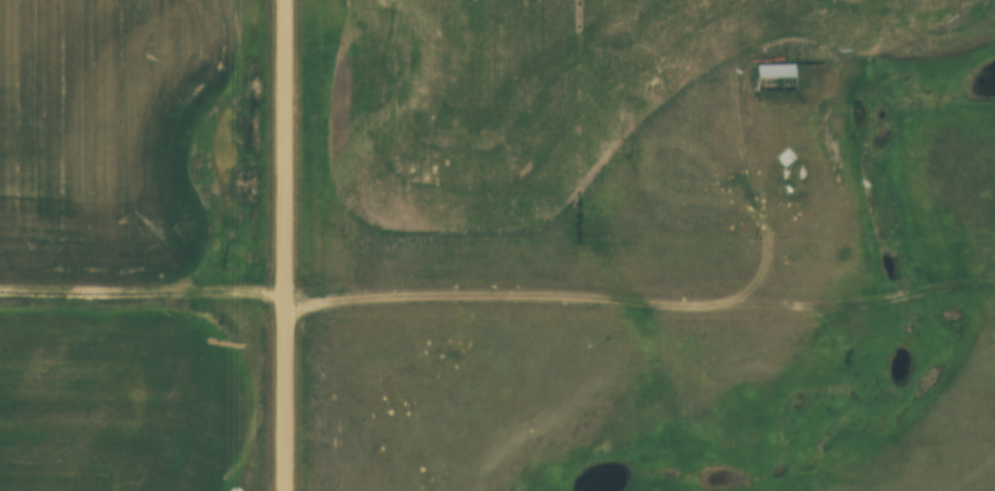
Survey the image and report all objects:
building: (775, 78)
road: (771, 205)
road: (288, 245)
road: (499, 296)

